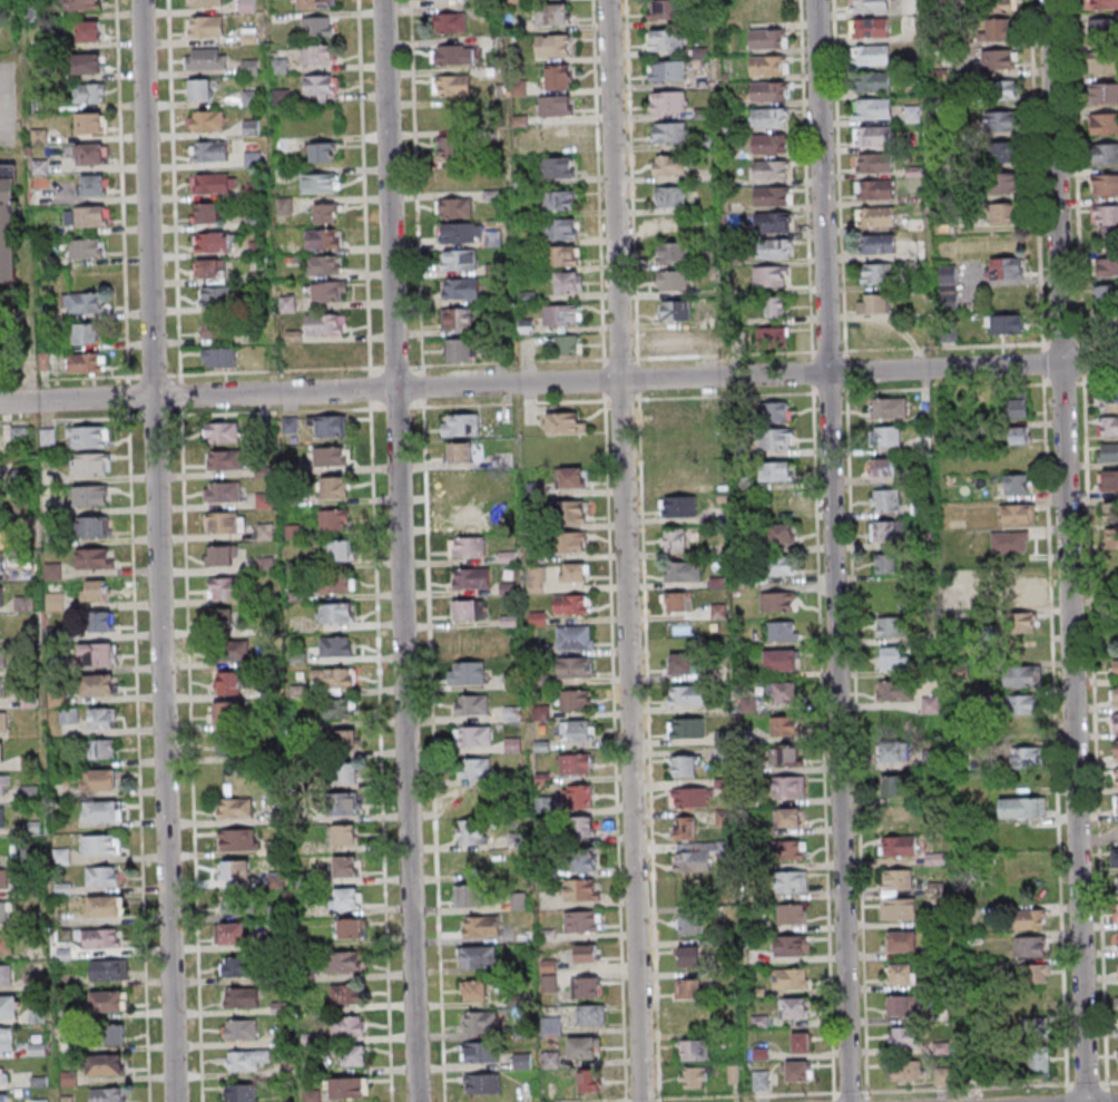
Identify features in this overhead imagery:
building: (204, 2)
building: (312, 3)
building: (1099, 3)
building: (82, 4)
building: (870, 4)
building: (246, 6)
building: (1000, 6)
building: (663, 9)
building: (552, 13)
building: (449, 22)
building: (206, 26)
building: (317, 26)
building: (1104, 26)
building: (870, 28)
building: (998, 29)
building: (89, 30)
building: (766, 38)
building: (666, 39)
building: (553, 45)
building: (316, 53)
building: (447, 53)
building: (870, 56)
building: (203, 58)
building: (997, 59)
building: (87, 62)
building: (1104, 62)
building: (767, 64)
building: (277, 65)
building: (249, 67)
building: (669, 70)
building: (558, 76)
building: (871, 82)
building: (321, 84)
building: (451, 84)
building: (199, 88)
building: (768, 89)
building: (1000, 90)
building: (87, 92)
building: (1104, 94)
building: (282, 96)
building: (251, 97)
building: (669, 100)
building: (555, 105)
building: (873, 108)
building: (913, 114)
building: (769, 116)
building: (206, 120)
building: (1001, 120)
building: (91, 121)
building: (1104, 123)
road: (3, 125)
building: (251, 127)
building: (669, 131)
building: (872, 135)
building: (558, 136)
building: (771, 143)
building: (450, 145)
building: (210, 150)
building: (322, 152)
building: (1004, 152)
building: (91, 154)
building: (1105, 154)
building: (874, 162)
building: (668, 164)
building: (555, 167)
building: (771, 168)
building: (212, 182)
building: (317, 182)
road: (414, 183)
building: (94, 184)
road: (362, 184)
building: (1008, 184)
building: (1106, 184)
building: (253, 188)
building: (874, 189)
road: (120, 191)
building: (772, 195)
building: (669, 196)
building: (558, 199)
building: (453, 207)
building: (207, 212)
building: (325, 213)
building: (1006, 213)
building: (1105, 215)
building: (89, 216)
building: (876, 216)
building: (254, 221)
building: (772, 221)
building: (8, 223)
building: (560, 228)
building: (460, 232)
building: (322, 237)
building: (212, 241)
building: (877, 243)
building: (85, 247)
building: (773, 247)
building: (673, 252)
building: (561, 255)
building: (458, 259)
building: (322, 264)
building: (1107, 266)
building: (212, 269)
building: (1003, 269)
building: (874, 273)
building: (769, 274)
building: (671, 280)
building: (569, 282)
building: (948, 282)
building: (460, 287)
building: (328, 290)
building: (215, 294)
building: (1106, 295)
building: (84, 302)
building: (873, 303)
building: (775, 305)
building: (674, 310)
building: (562, 314)
building: (459, 316)
building: (323, 323)
building: (1004, 323)
building: (1107, 323)
building: (214, 328)
building: (876, 330)
building: (85, 333)
building: (772, 335)
building: (686, 341)
building: (566, 344)
building: (460, 349)
building: (218, 357)
building: (84, 362)
road: (559, 383)
building: (1107, 401)
building: (1017, 404)
building: (887, 408)
building: (776, 410)
building: (674, 416)
building: (565, 422)
building: (327, 425)
building: (461, 425)
building: (1107, 427)
building: (222, 431)
building: (1019, 435)
building: (88, 436)
building: (887, 436)
building: (777, 438)
building: (460, 451)
building: (1107, 452)
building: (328, 456)
building: (224, 459)
building: (90, 464)
building: (880, 467)
building: (775, 470)
building: (571, 477)
building: (1109, 480)
building: (462, 481)
building: (1016, 484)
building: (334, 486)
building: (223, 491)
building: (90, 495)
building: (0, 500)
building: (884, 500)
building: (677, 505)
building: (567, 510)
building: (1108, 513)
building: (465, 514)
building: (1017, 514)
building: (334, 518)
building: (224, 521)
building: (92, 526)
building: (264, 530)
building: (886, 530)
building: (783, 533)
building: (675, 539)
building: (568, 542)
building: (1009, 542)
building: (468, 545)
building: (339, 549)
road: (158, 550)
road: (185, 550)
road: (402, 550)
road: (627, 550)
road: (835, 550)
road: (1071, 550)
building: (222, 555)
building: (91, 557)
building: (1, 562)
building: (884, 563)
building: (781, 565)
building: (52, 566)
building: (681, 570)
building: (575, 572)
building: (1116, 576)
building: (472, 577)
building: (536, 578)
building: (336, 583)
building: (224, 587)
building: (95, 591)
building: (1, 595)
building: (1022, 596)
building: (677, 601)
building: (777, 602)
building: (891, 602)
building: (23, 604)
building: (570, 604)
building: (468, 609)
building: (336, 612)
building: (226, 618)
building: (101, 621)
building: (1022, 623)
building: (887, 626)
building: (782, 631)
building: (573, 635)
building: (336, 646)
building: (232, 650)
building: (96, 653)
building: (2, 659)
building: (892, 659)
building: (781, 660)
building: (681, 663)
building: (573, 666)
building: (1116, 669)
building: (467, 671)
building: (1021, 676)
building: (336, 677)
building: (227, 682)
building: (98, 684)
building: (0, 690)
building: (894, 690)
building: (783, 692)
building: (686, 694)
building: (1116, 696)
building: (577, 700)
building: (472, 703)
building: (1022, 704)
building: (337, 708)
building: (227, 711)
building: (69, 715)
building: (102, 718)
building: (2, 721)
building: (1116, 722)
building: (784, 724)
building: (686, 726)
building: (577, 730)
building: (474, 734)
building: (347, 740)
building: (232, 747)
building: (100, 748)
building: (890, 750)
building: (1116, 750)
building: (1, 751)
building: (790, 754)
building: (1027, 757)
road: (138, 759)
building: (575, 763)
building: (686, 765)
building: (474, 768)
building: (344, 771)
building: (1117, 777)
building: (99, 779)
building: (3, 784)
building: (788, 786)
building: (896, 787)
building: (579, 796)
building: (690, 797)
building: (344, 803)
building: (1116, 803)
building: (1022, 807)
building: (234, 808)
building: (100, 811)
building: (1, 817)
building: (787, 817)
building: (899, 818)
building: (580, 826)
building: (685, 827)
building: (470, 831)
building: (343, 835)
building: (238, 839)
building: (98, 845)
building: (899, 847)
building: (792, 849)
building: (697, 855)
building: (1115, 857)
building: (581, 859)
building: (474, 864)
building: (345, 866)
building: (235, 869)
building: (101, 876)
building: (4, 878)
building: (899, 879)
building: (794, 880)
building: (580, 889)
building: (469, 895)
building: (346, 897)
building: (519, 900)
building: (235, 901)
building: (102, 905)
building: (896, 909)
building: (3, 910)
building: (792, 913)
building: (1030, 918)
building: (580, 920)
building: (688, 923)
building: (482, 926)
building: (350, 927)
building: (232, 933)
building: (102, 937)
building: (904, 940)
building: (6, 943)
building: (788, 945)
building: (1030, 946)
building: (587, 953)
building: (689, 955)
building: (479, 956)
building: (344, 960)
building: (235, 966)
building: (107, 969)
building: (903, 973)
building: (1033, 973)
building: (6, 974)
building: (549, 975)
building: (787, 977)
building: (587, 986)
building: (689, 988)
building: (474, 989)
building: (345, 993)
building: (242, 996)
building: (106, 1001)
building: (903, 1004)
building: (8, 1006)
building: (793, 1006)
building: (594, 1014)
building: (981, 1020)
building: (480, 1021)
building: (346, 1025)
building: (551, 1025)
building: (1032, 1026)
building: (241, 1030)
building: (115, 1034)
building: (904, 1036)
building: (6, 1038)
building: (801, 1042)
building: (583, 1047)
building: (694, 1049)
building: (482, 1052)
building: (354, 1055)
building: (548, 1057)
building: (243, 1060)
building: (1040, 1061)
building: (105, 1064)
building: (797, 1070)
building: (908, 1070)
building: (3, 1071)
building: (693, 1076)
building: (761, 1080)
building: (586, 1082)
building: (483, 1083)
building: (349, 1088)
building: (241, 1092)
building: (106, 1094)
building: (3, 1098)

